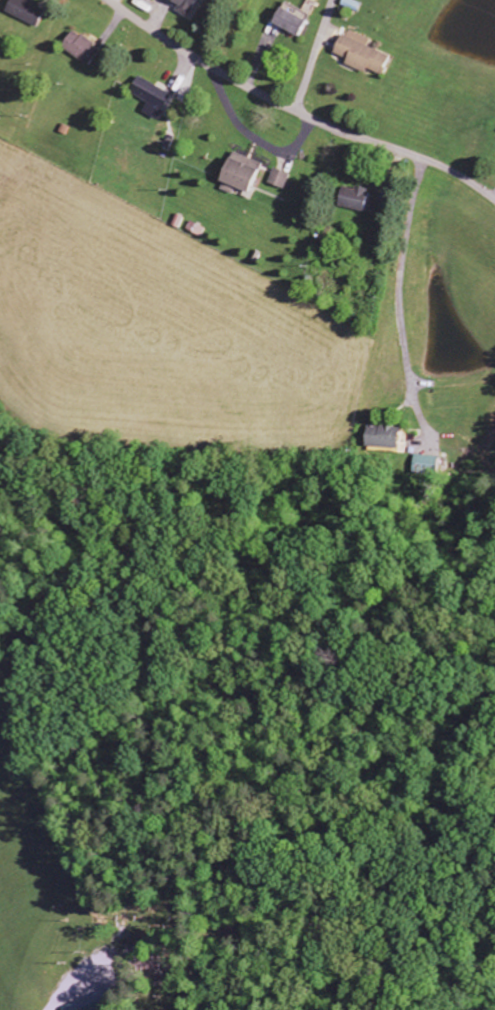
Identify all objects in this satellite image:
building: (180, 5)
building: (23, 11)
building: (285, 22)
building: (78, 47)
building: (358, 56)
building: (148, 97)
road: (297, 110)
building: (237, 173)
building: (278, 178)
building: (351, 198)
building: (382, 438)
building: (425, 465)
building: (81, 1005)

